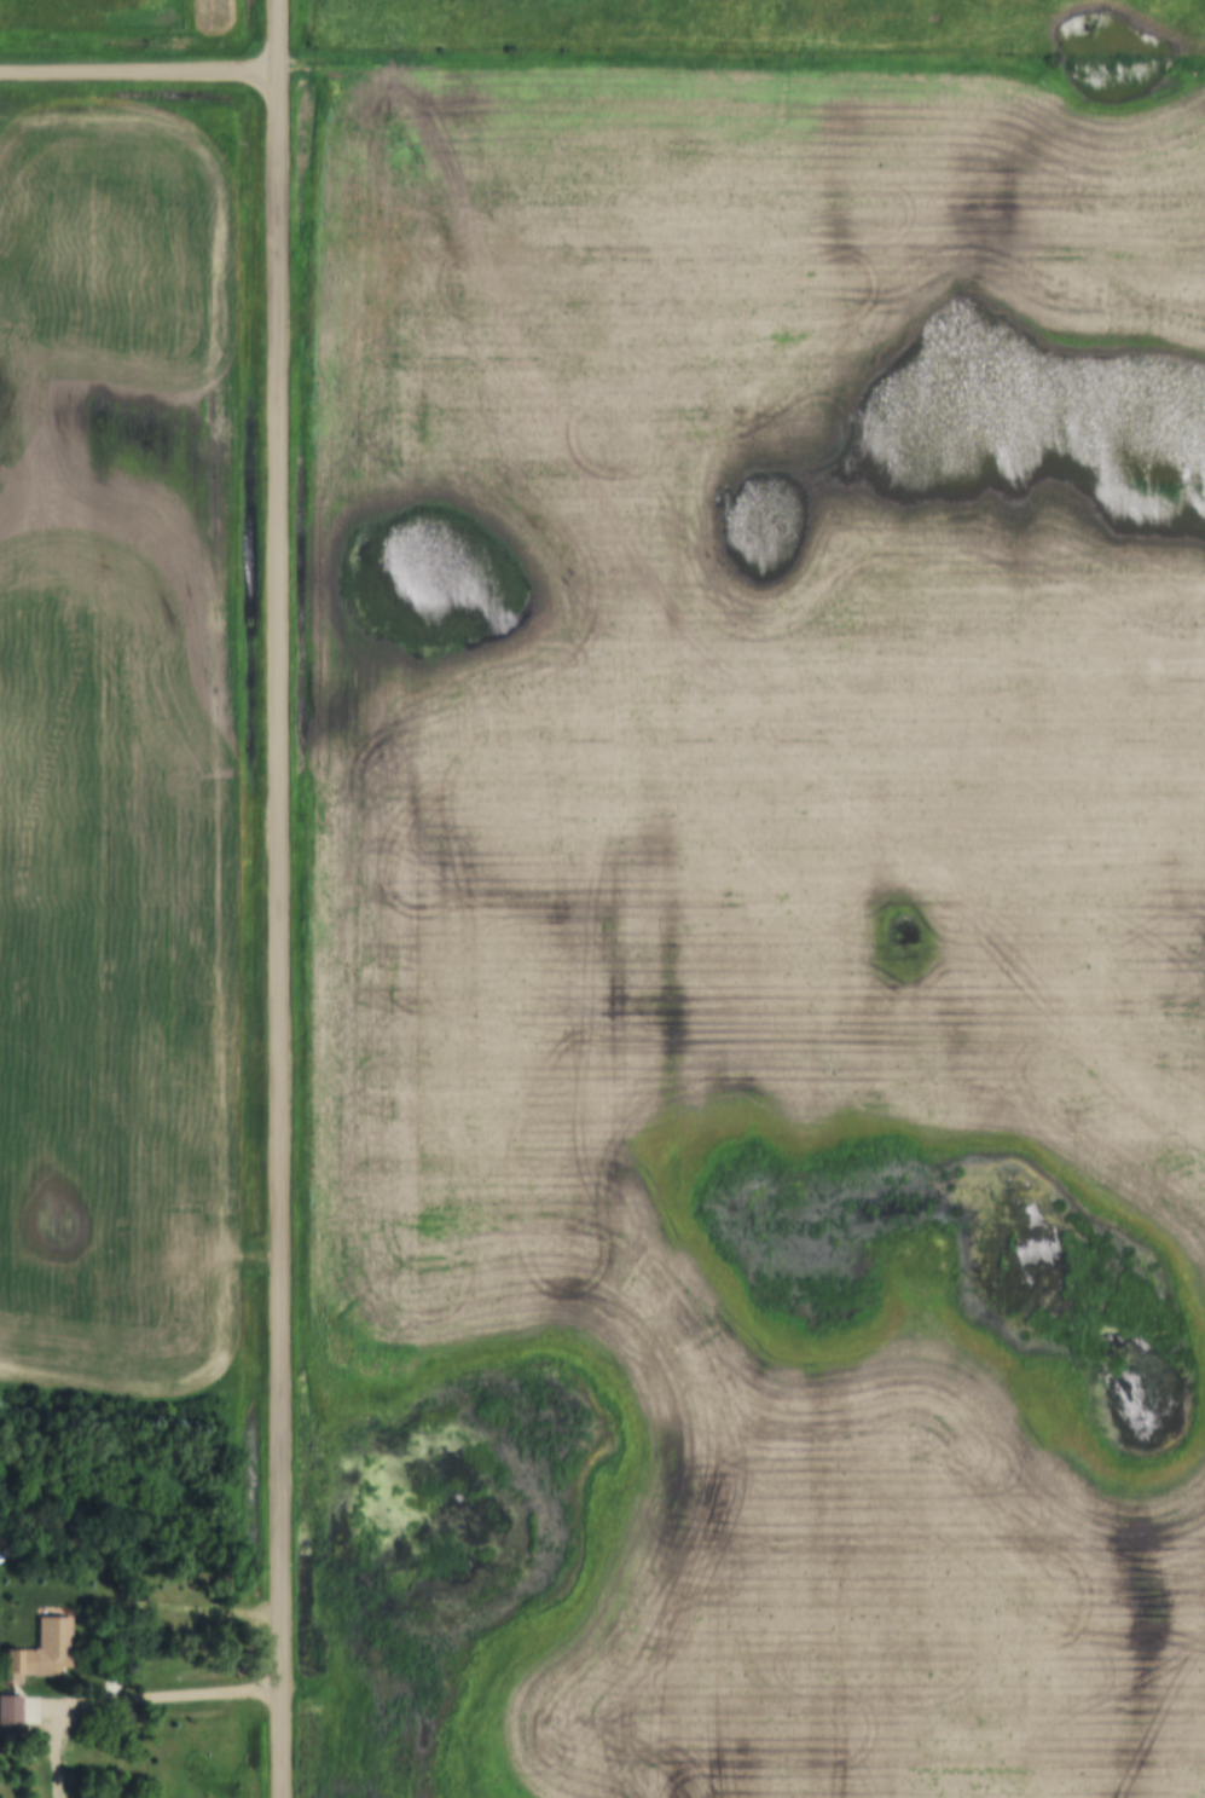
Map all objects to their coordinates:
road: (740, 63)
road: (138, 69)
road: (278, 898)
building: (33, 1665)
road: (121, 1699)
building: (10, 1713)

